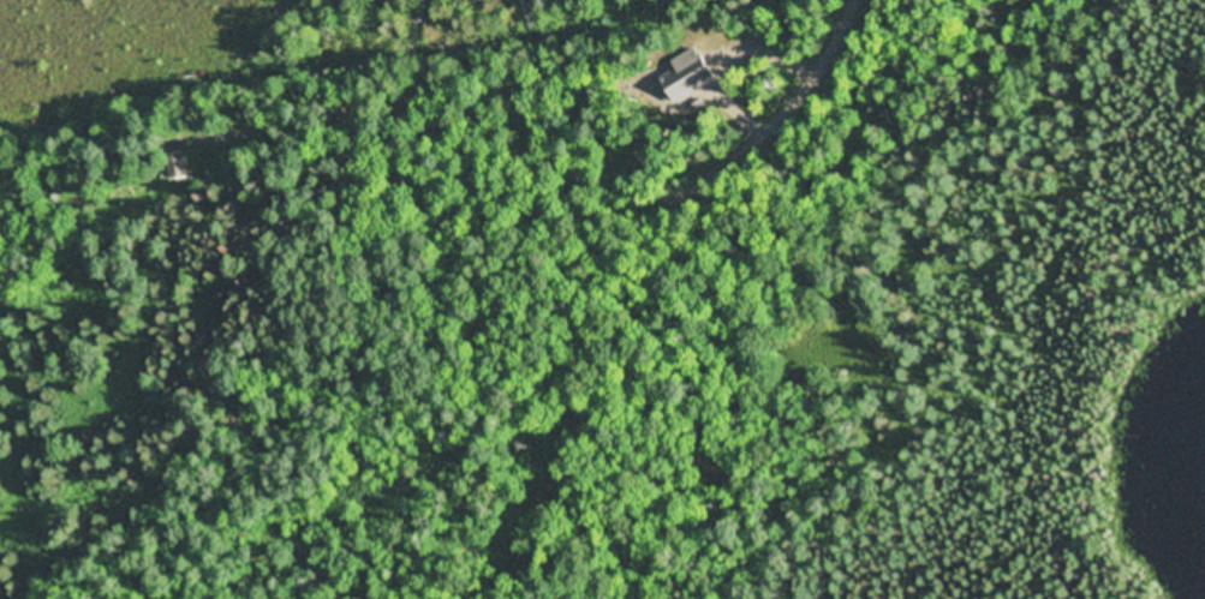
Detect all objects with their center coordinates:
road: (374, 100)

